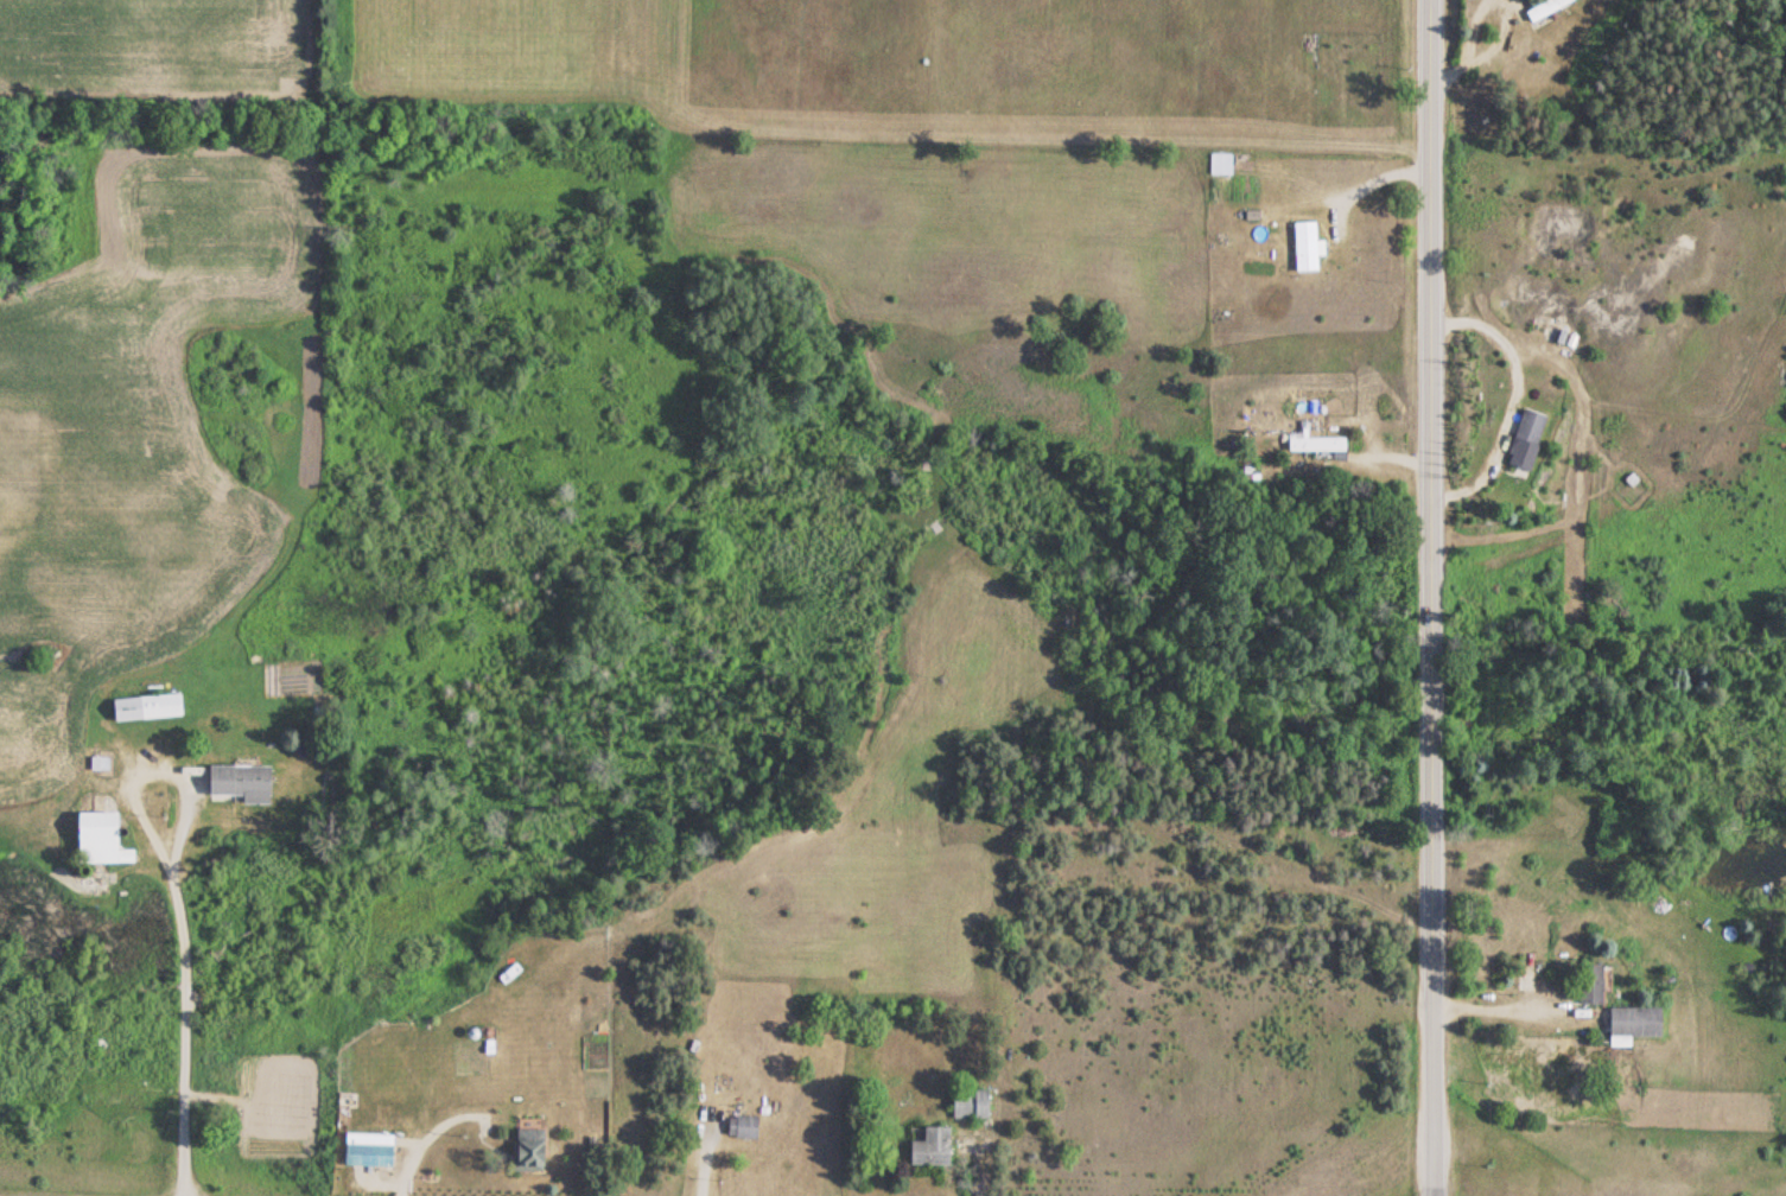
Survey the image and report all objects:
building: (1303, 246)
road: (1602, 279)
road: (1299, 430)
building: (1523, 438)
building: (1313, 443)
road: (1349, 448)
road: (1418, 598)
building: (144, 705)
building: (237, 781)
building: (93, 835)
building: (1585, 984)
building: (1628, 1024)
building: (966, 1103)
building: (738, 1127)
building: (926, 1145)
building: (526, 1147)
building: (364, 1152)

